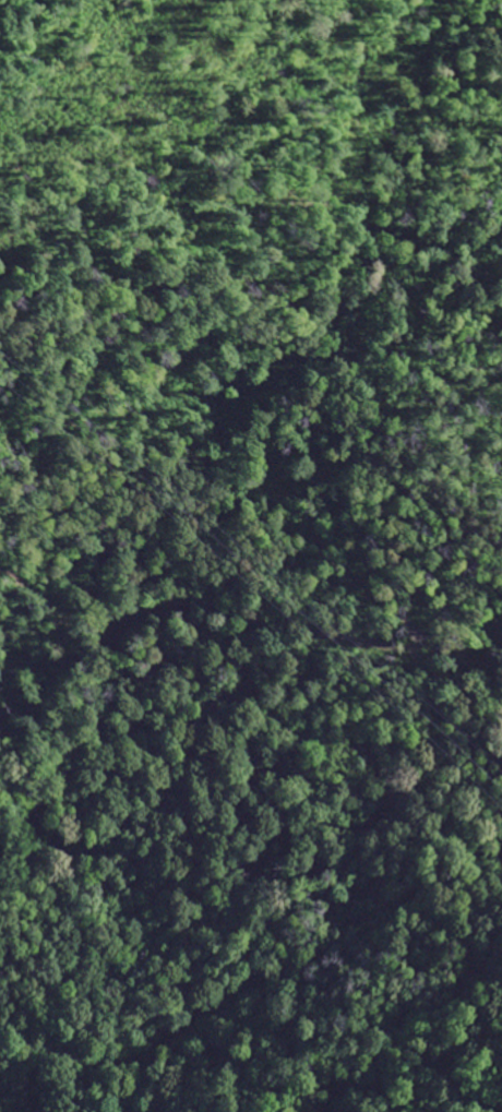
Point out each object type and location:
road: (156, 990)

